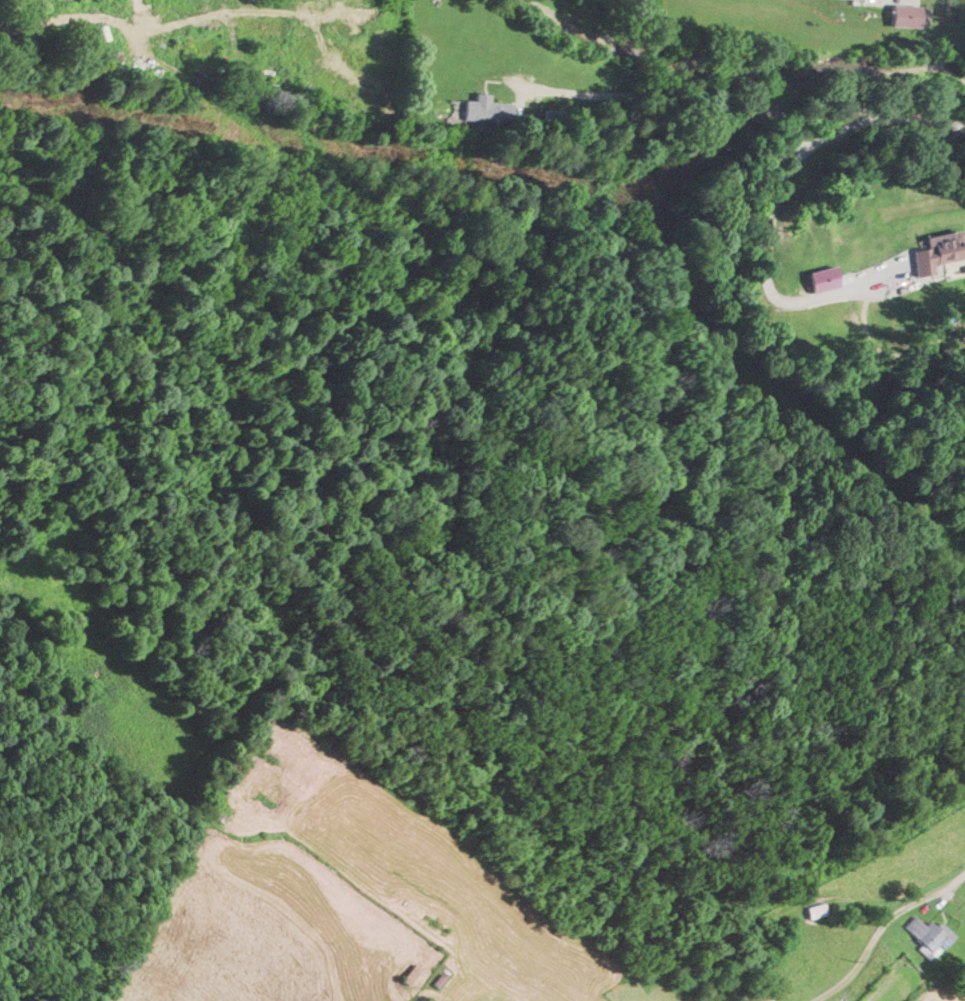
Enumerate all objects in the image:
road: (747, 104)
building: (487, 109)
road: (765, 252)
road: (880, 928)
building: (927, 934)

